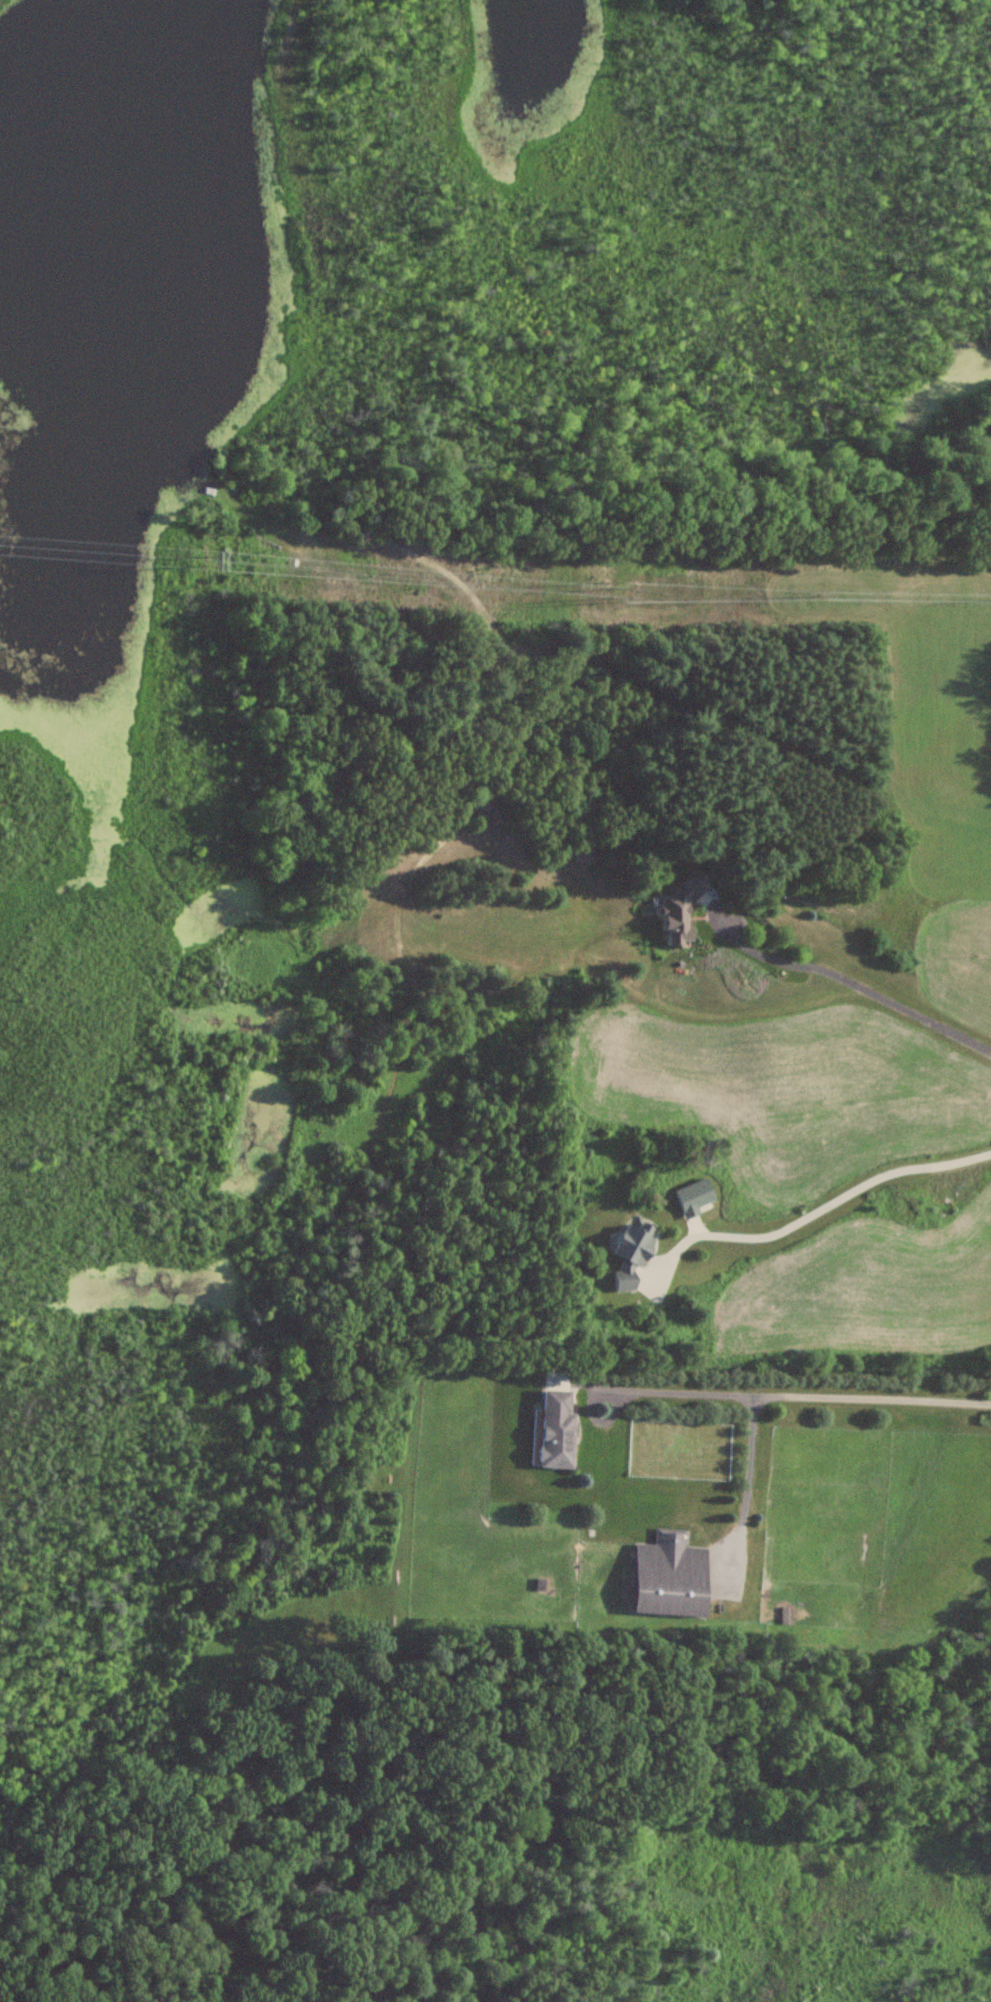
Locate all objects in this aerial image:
power tower: (211, 550)
building: (678, 908)
road: (852, 982)
road: (811, 1213)
building: (629, 1254)
road: (795, 1394)
building: (555, 1429)
road: (747, 1476)
building: (669, 1576)

